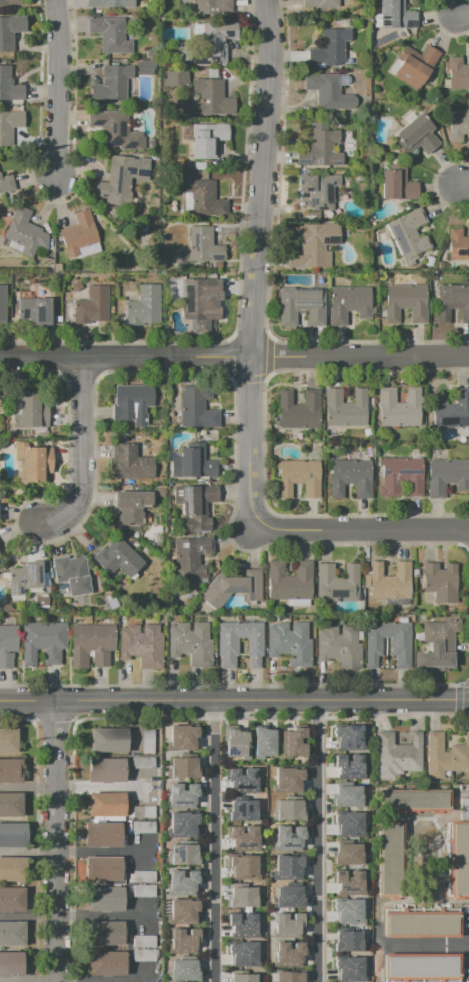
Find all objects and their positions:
building: (320, 3)
building: (10, 4)
building: (110, 4)
building: (182, 6)
building: (214, 6)
building: (396, 15)
road: (463, 15)
building: (10, 31)
building: (110, 34)
building: (211, 45)
building: (330, 48)
building: (415, 66)
building: (145, 68)
building: (457, 74)
building: (173, 77)
building: (112, 85)
building: (9, 87)
road: (58, 88)
building: (324, 90)
building: (468, 91)
building: (209, 99)
building: (458, 125)
building: (9, 126)
building: (114, 132)
building: (418, 136)
building: (207, 140)
building: (319, 148)
building: (121, 180)
building: (6, 183)
building: (397, 184)
road: (465, 187)
building: (318, 189)
building: (205, 198)
building: (24, 233)
building: (78, 233)
building: (408, 233)
building: (204, 245)
building: (314, 245)
building: (457, 245)
road: (256, 261)
building: (201, 300)
building: (406, 302)
building: (349, 303)
building: (452, 303)
building: (2, 305)
building: (301, 305)
building: (92, 306)
building: (144, 307)
building: (35, 310)
road: (234, 357)
building: (134, 403)
building: (197, 408)
building: (345, 408)
building: (400, 408)
building: (32, 409)
building: (299, 410)
building: (451, 412)
road: (81, 453)
building: (34, 461)
building: (131, 463)
building: (193, 463)
building: (401, 476)
building: (447, 476)
building: (299, 478)
building: (351, 478)
building: (133, 505)
building: (195, 506)
road: (361, 529)
building: (191, 557)
building: (117, 558)
building: (71, 574)
building: (25, 577)
building: (289, 581)
building: (389, 581)
building: (441, 581)
building: (337, 583)
building: (234, 588)
building: (40, 601)
building: (179, 640)
building: (278, 640)
building: (31, 641)
building: (54, 642)
building: (82, 642)
building: (129, 642)
building: (253, 642)
building: (374, 642)
building: (228, 643)
building: (399, 643)
building: (104, 644)
building: (327, 644)
building: (7, 645)
building: (438, 645)
building: (200, 646)
building: (299, 647)
building: (151, 648)
building: (348, 650)
road: (234, 701)
building: (347, 736)
building: (181, 737)
building: (8, 740)
building: (108, 740)
building: (147, 741)
building: (264, 742)
building: (237, 743)
building: (293, 743)
building: (397, 755)
building: (446, 755)
building: (142, 761)
building: (348, 766)
building: (183, 767)
building: (10, 770)
building: (106, 771)
building: (242, 780)
building: (287, 780)
road: (30, 787)
road: (101, 787)
building: (182, 795)
building: (348, 796)
building: (413, 801)
building: (10, 804)
building: (105, 804)
building: (464, 809)
building: (287, 810)
building: (243, 811)
building: (143, 812)
building: (181, 824)
building: (349, 824)
building: (143, 827)
building: (12, 834)
building: (102, 835)
building: (243, 837)
building: (288, 838)
road: (60, 841)
road: (220, 841)
road: (318, 841)
road: (30, 851)
road: (100, 852)
building: (348, 854)
building: (183, 855)
building: (390, 859)
building: (457, 859)
building: (242, 865)
building: (287, 866)
building: (13, 868)
building: (102, 869)
building: (143, 877)
building: (349, 881)
building: (182, 882)
building: (142, 891)
building: (288, 896)
building: (243, 897)
road: (161, 898)
building: (11, 899)
building: (105, 899)
building: (349, 910)
building: (182, 911)
road: (64, 917)
building: (421, 923)
building: (287, 924)
building: (242, 926)
building: (12, 933)
building: (104, 933)
building: (143, 941)
building: (183, 941)
building: (347, 941)
road: (429, 947)
building: (289, 952)
building: (244, 954)
building: (143, 956)
building: (107, 962)
road: (146, 963)
building: (10, 964)
building: (422, 967)
building: (349, 968)
building: (183, 970)
building: (290, 976)
building: (243, 978)
road: (95, 981)

